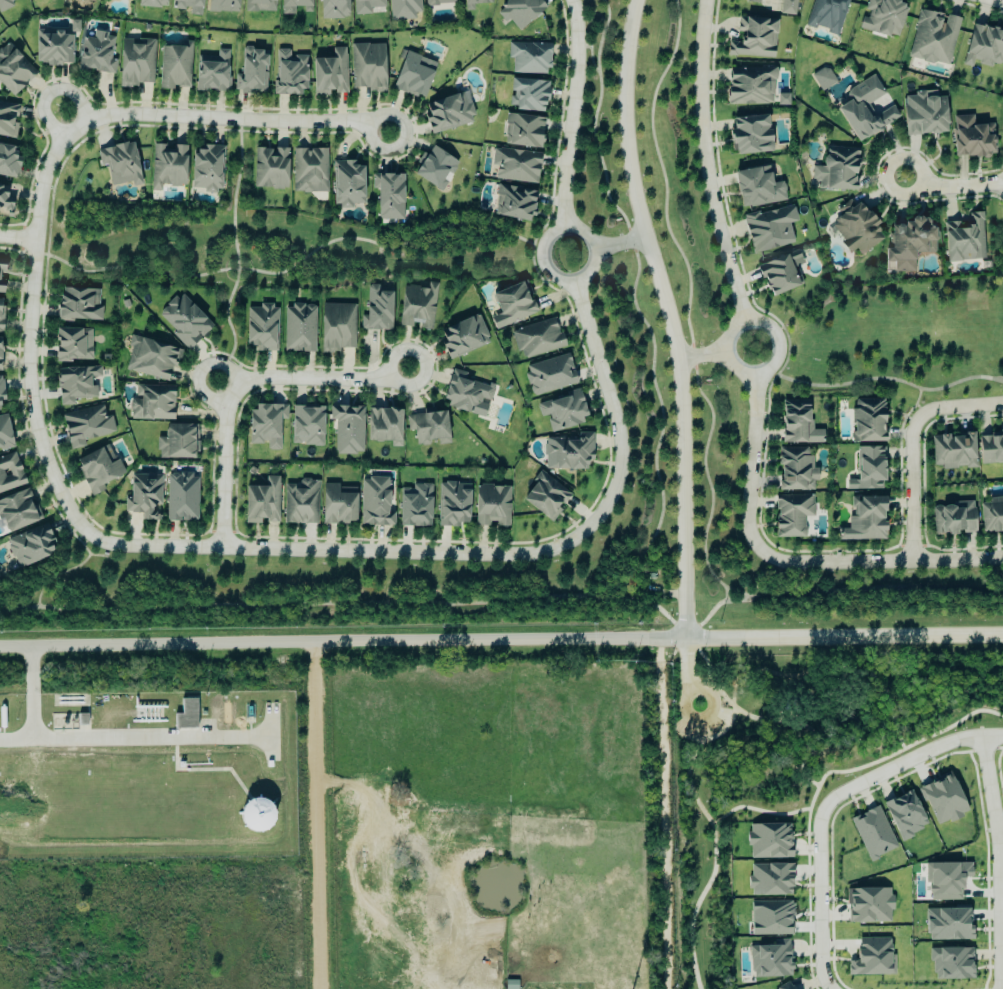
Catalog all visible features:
building: (34, 0)
road: (999, 0)
building: (751, 1)
building: (438, 2)
building: (152, 3)
building: (472, 4)
building: (5, 5)
building: (187, 6)
building: (223, 6)
building: (259, 6)
building: (294, 6)
building: (366, 6)
building: (787, 7)
building: (332, 9)
building: (403, 9)
building: (519, 11)
building: (826, 15)
building: (882, 17)
road: (681, 29)
building: (933, 38)
building: (754, 39)
building: (983, 47)
building: (96, 53)
building: (528, 58)
building: (136, 62)
building: (175, 67)
building: (367, 67)
building: (13, 71)
building: (211, 72)
building: (288, 74)
building: (329, 74)
building: (413, 75)
building: (822, 79)
building: (750, 86)
building: (527, 95)
road: (70, 98)
building: (782, 100)
building: (865, 110)
road: (600, 111)
road: (574, 112)
building: (448, 113)
building: (924, 114)
road: (232, 118)
building: (8, 120)
road: (45, 120)
building: (522, 131)
building: (749, 135)
building: (971, 138)
building: (8, 163)
road: (707, 163)
building: (119, 164)
building: (515, 166)
building: (167, 167)
building: (206, 169)
building: (270, 169)
building: (434, 169)
building: (836, 169)
building: (309, 171)
building: (346, 184)
road: (952, 185)
building: (757, 188)
building: (388, 196)
building: (5, 203)
building: (513, 203)
building: (769, 229)
building: (855, 229)
road: (16, 236)
building: (964, 240)
road: (621, 242)
building: (908, 244)
building: (781, 273)
building: (1, 275)
road: (581, 278)
building: (78, 305)
building: (419, 306)
building: (514, 307)
building: (371, 313)
building: (1, 314)
road: (671, 316)
building: (183, 321)
building: (261, 328)
building: (299, 329)
building: (339, 330)
road: (26, 331)
road: (692, 331)
building: (464, 337)
building: (539, 341)
building: (72, 345)
road: (705, 354)
building: (150, 359)
building: (0, 361)
road: (758, 371)
road: (200, 373)
building: (552, 378)
road: (890, 382)
building: (75, 384)
road: (241, 385)
building: (1, 389)
building: (467, 396)
building: (151, 403)
building: (565, 412)
road: (665, 413)
building: (867, 421)
building: (797, 424)
building: (85, 426)
building: (269, 426)
building: (311, 427)
building: (385, 429)
building: (431, 431)
building: (4, 433)
building: (350, 433)
building: (177, 442)
road: (915, 449)
building: (990, 449)
building: (953, 452)
building: (572, 455)
building: (795, 470)
building: (867, 470)
building: (10, 473)
building: (143, 497)
building: (181, 498)
building: (543, 498)
building: (262, 503)
building: (303, 503)
building: (378, 503)
building: (340, 505)
building: (454, 505)
building: (417, 507)
building: (493, 509)
building: (791, 515)
building: (992, 516)
building: (953, 519)
building: (864, 521)
building: (30, 546)
road: (470, 554)
road: (788, 566)
road: (746, 596)
road: (510, 602)
road: (844, 635)
road: (342, 637)
road: (687, 664)
road: (876, 676)
building: (185, 715)
road: (706, 715)
building: (81, 720)
parking lot: (703, 721)
park: (772, 727)
road: (723, 729)
road: (103, 737)
road: (16, 738)
road: (897, 762)
road: (807, 779)
building: (943, 799)
road: (312, 813)
building: (254, 814)
building: (905, 815)
building: (873, 833)
building: (769, 840)
road: (994, 861)
building: (769, 879)
building: (945, 880)
building: (869, 905)
road: (698, 906)
road: (815, 909)
building: (770, 918)
building: (947, 924)
building: (870, 957)
building: (770, 959)
building: (951, 963)
building: (784, 986)

